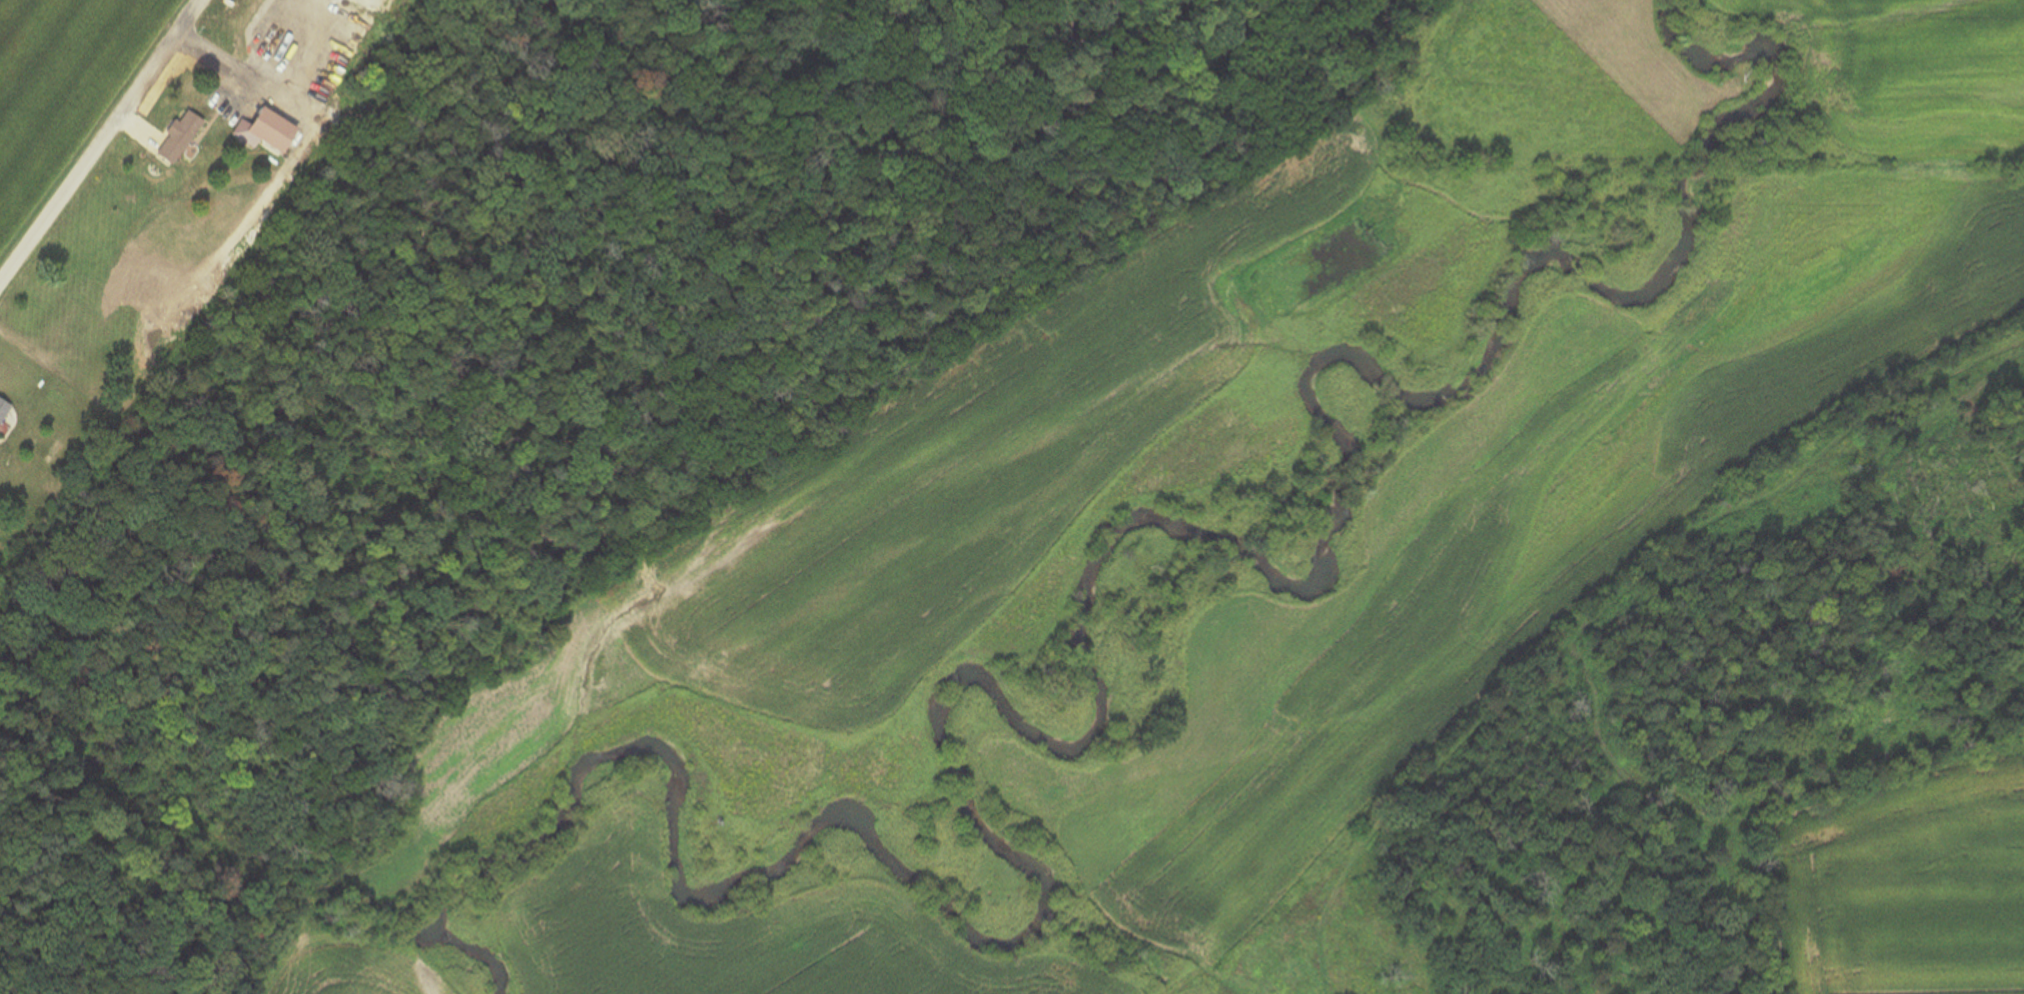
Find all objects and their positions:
building: (272, 133)
building: (184, 138)
road: (102, 142)
building: (75, 320)
building: (4, 409)

